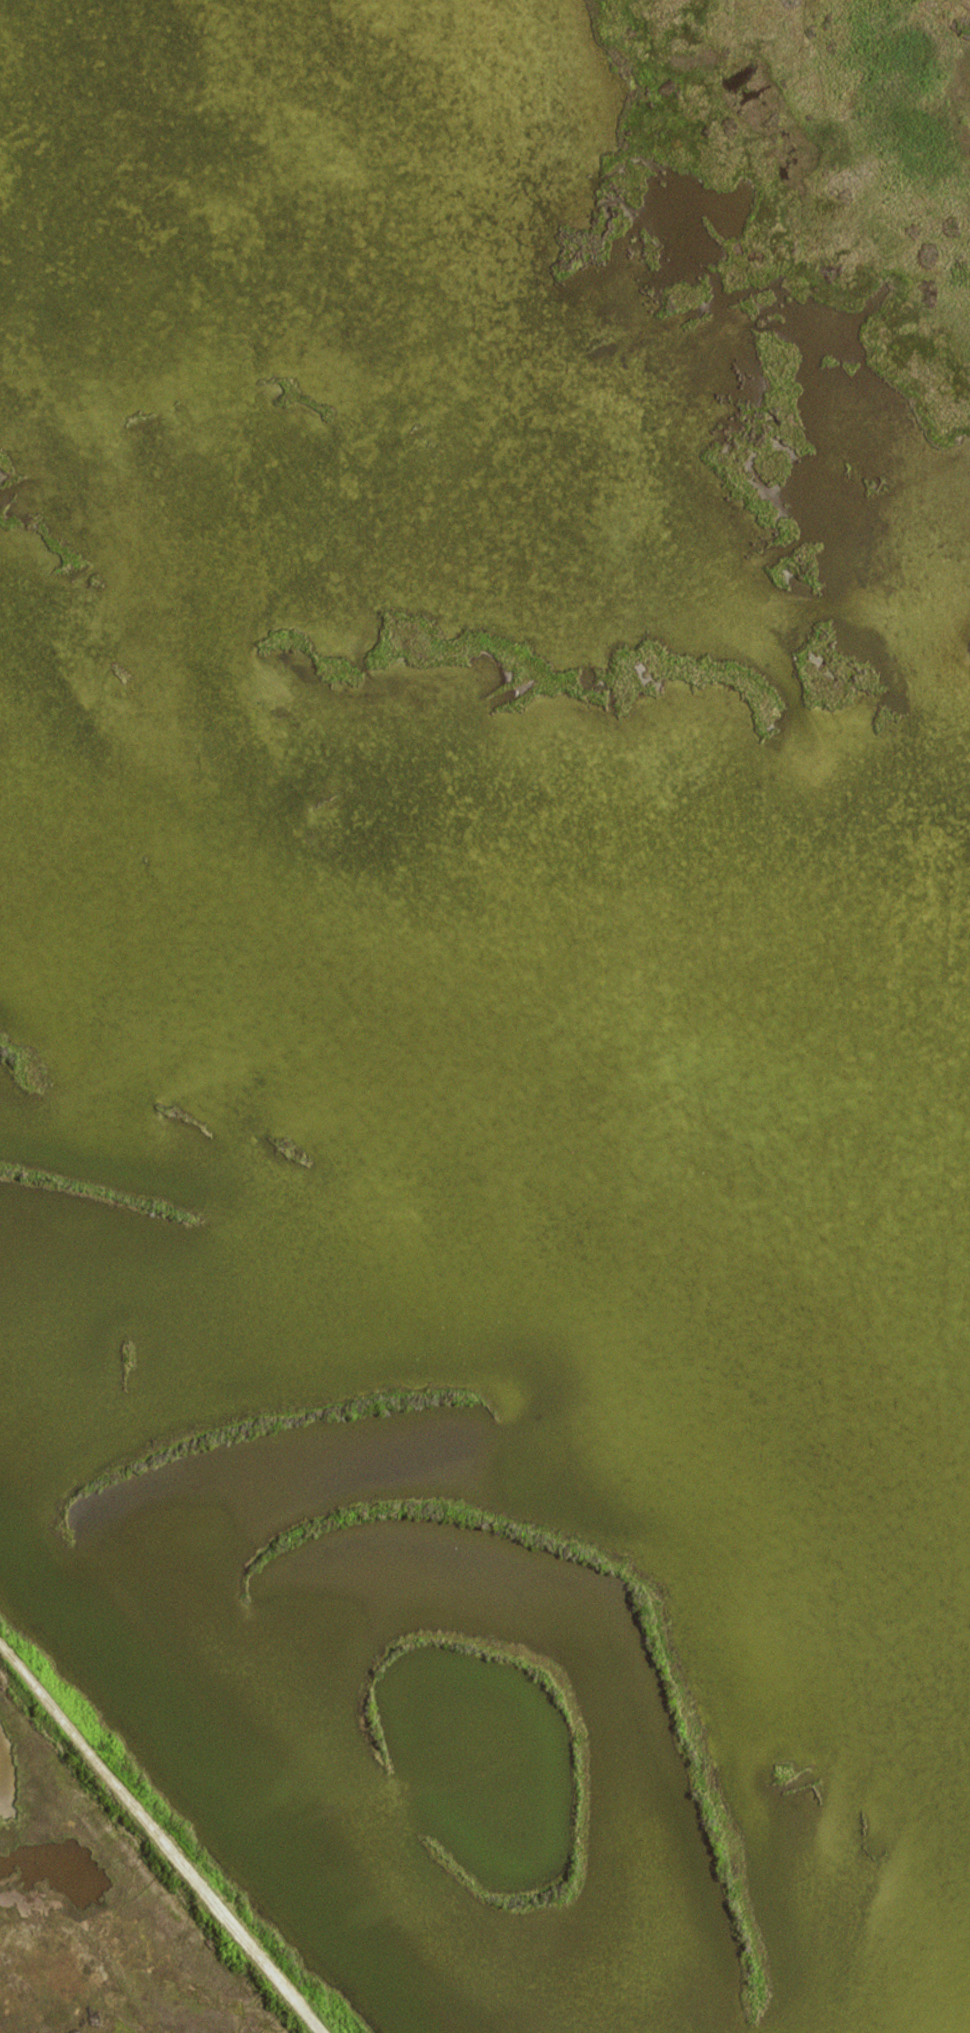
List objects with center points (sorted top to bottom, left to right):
road: (162, 1837)

